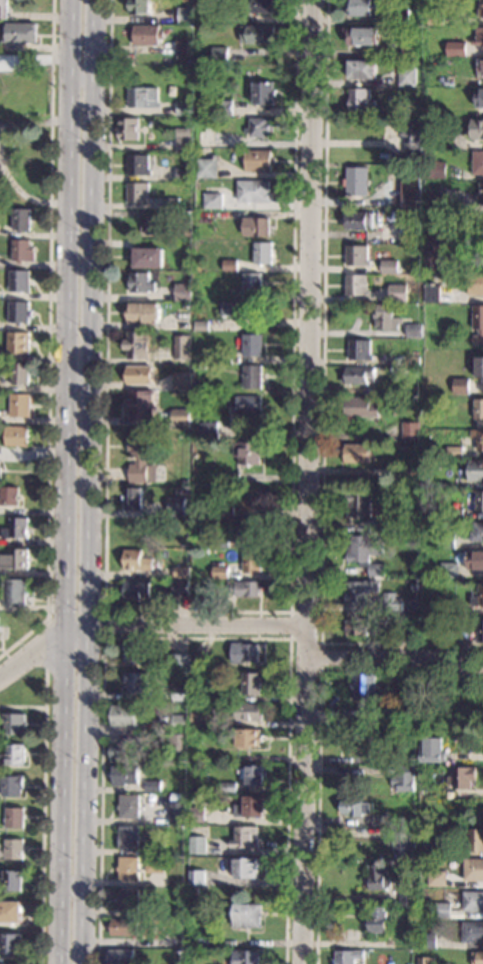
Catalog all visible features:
building: (384, 2)
building: (262, 6)
building: (141, 7)
building: (362, 7)
building: (4, 9)
building: (481, 9)
building: (187, 15)
building: (436, 15)
building: (400, 17)
building: (414, 19)
building: (20, 33)
building: (148, 35)
building: (258, 35)
building: (363, 36)
building: (479, 37)
building: (185, 47)
building: (410, 48)
building: (456, 49)
building: (221, 55)
building: (447, 60)
building: (480, 68)
building: (363, 70)
building: (407, 76)
building: (264, 93)
building: (144, 98)
building: (480, 99)
building: (361, 100)
building: (225, 107)
building: (185, 108)
building: (391, 111)
building: (200, 121)
building: (260, 127)
building: (129, 129)
building: (477, 129)
building: (184, 132)
building: (414, 135)
building: (436, 135)
building: (207, 138)
building: (184, 145)
building: (259, 160)
building: (478, 162)
building: (139, 165)
building: (208, 168)
building: (437, 170)
building: (183, 172)
building: (357, 181)
building: (255, 191)
building: (411, 191)
building: (138, 193)
building: (480, 194)
building: (213, 201)
building: (436, 201)
building: (172, 204)
building: (205, 218)
building: (22, 219)
building: (359, 221)
building: (157, 225)
building: (257, 227)
building: (188, 233)
building: (436, 240)
building: (23, 251)
building: (263, 253)
building: (358, 255)
building: (149, 258)
building: (230, 265)
building: (390, 267)
building: (20, 281)
building: (142, 283)
building: (253, 283)
building: (476, 284)
building: (357, 285)
building: (184, 292)
building: (398, 293)
building: (432, 293)
building: (237, 309)
building: (20, 312)
building: (143, 313)
building: (387, 318)
building: (478, 324)
building: (202, 326)
building: (415, 331)
road: (49, 338)
building: (19, 343)
building: (137, 344)
building: (253, 345)
building: (182, 347)
building: (360, 350)
building: (200, 355)
building: (415, 361)
building: (201, 366)
building: (480, 367)
building: (20, 374)
building: (140, 375)
building: (360, 375)
building: (252, 377)
building: (182, 381)
building: (399, 385)
building: (461, 386)
building: (141, 404)
building: (246, 405)
road: (323, 405)
building: (20, 406)
building: (360, 407)
building: (478, 409)
building: (180, 416)
building: (428, 422)
building: (213, 430)
building: (411, 431)
building: (17, 436)
building: (477, 438)
building: (247, 452)
building: (454, 452)
building: (139, 454)
building: (357, 454)
building: (427, 463)
building: (475, 470)
building: (0, 472)
building: (410, 473)
building: (230, 479)
road: (63, 481)
road: (307, 481)
road: (87, 482)
building: (181, 492)
building: (9, 496)
building: (133, 498)
building: (251, 501)
building: (479, 501)
building: (357, 505)
building: (176, 506)
building: (221, 511)
building: (455, 513)
building: (386, 526)
building: (16, 528)
building: (132, 529)
building: (250, 530)
building: (477, 532)
building: (446, 541)
building: (220, 542)
building: (364, 553)
building: (15, 560)
building: (475, 560)
building: (136, 561)
building: (252, 561)
building: (449, 570)
building: (219, 572)
building: (181, 573)
building: (180, 587)
building: (414, 587)
building: (245, 588)
building: (136, 589)
building: (17, 591)
building: (357, 592)
building: (478, 596)
building: (208, 597)
building: (389, 605)
building: (446, 607)
road: (197, 613)
road: (62, 615)
building: (356, 624)
building: (401, 625)
road: (146, 630)
building: (479, 631)
building: (444, 633)
road: (196, 638)
road: (305, 642)
building: (133, 651)
building: (244, 653)
road: (395, 657)
building: (180, 662)
building: (198, 662)
building: (192, 677)
building: (136, 682)
building: (250, 684)
road: (44, 688)
building: (179, 694)
building: (364, 696)
road: (22, 707)
building: (248, 712)
building: (125, 715)
building: (198, 719)
building: (179, 722)
building: (15, 724)
road: (319, 734)
building: (248, 739)
building: (178, 743)
building: (360, 747)
building: (125, 750)
building: (431, 750)
building: (13, 756)
building: (177, 759)
building: (409, 760)
building: (125, 775)
building: (255, 775)
building: (462, 777)
building: (403, 778)
building: (13, 786)
building: (153, 786)
building: (227, 788)
building: (147, 797)
building: (178, 797)
building: (130, 806)
building: (355, 806)
building: (250, 807)
building: (177, 813)
building: (196, 815)
building: (13, 817)
building: (397, 819)
building: (411, 819)
building: (431, 819)
building: (189, 828)
building: (382, 832)
road: (42, 836)
building: (129, 837)
building: (245, 837)
building: (475, 840)
building: (403, 844)
building: (198, 845)
building: (157, 848)
building: (439, 848)
building: (15, 849)
building: (155, 864)
building: (129, 868)
building: (246, 868)
building: (473, 870)
building: (196, 878)
building: (378, 878)
building: (436, 878)
building: (13, 881)
building: (408, 896)
building: (128, 899)
building: (473, 901)
building: (156, 910)
building: (443, 910)
building: (11, 912)
building: (247, 915)
building: (379, 920)
building: (125, 927)
building: (473, 932)
building: (428, 940)
building: (198, 941)
building: (405, 941)
building: (171, 942)
building: (12, 944)
building: (119, 956)
building: (348, 956)
building: (246, 957)
building: (477, 958)
building: (365, 961)
building: (425, 961)
building: (3, 963)

